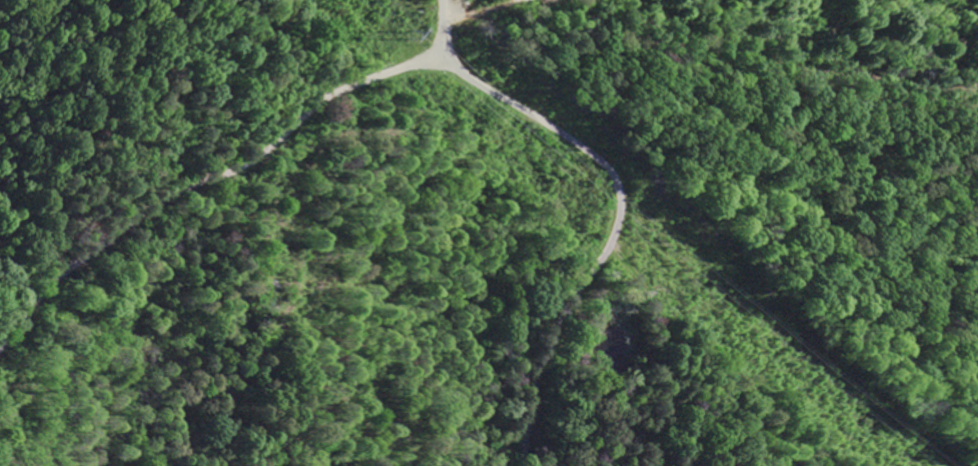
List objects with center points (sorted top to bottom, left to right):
power tower: (409, 35)
road: (210, 181)
road: (622, 198)

